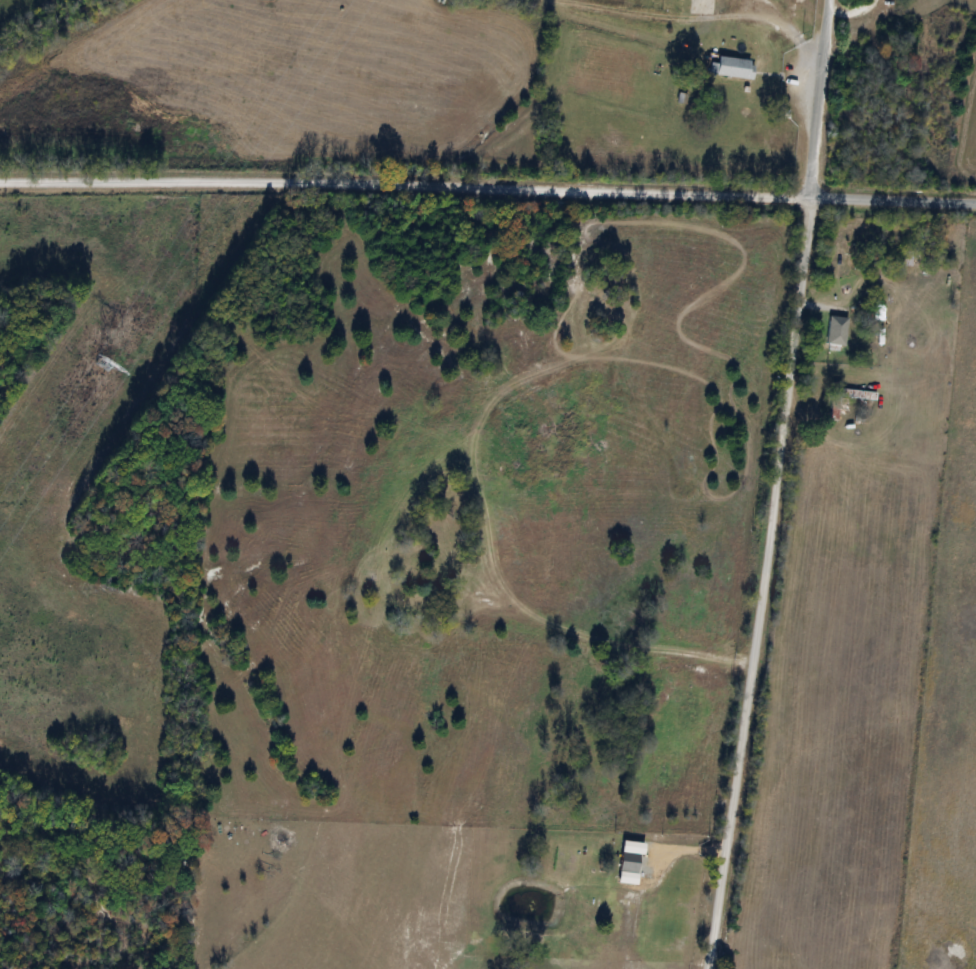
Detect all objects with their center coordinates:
road: (713, 17)
road: (784, 30)
building: (733, 68)
road: (488, 189)
building: (836, 332)
power tower: (99, 365)
building: (846, 400)
road: (772, 485)

